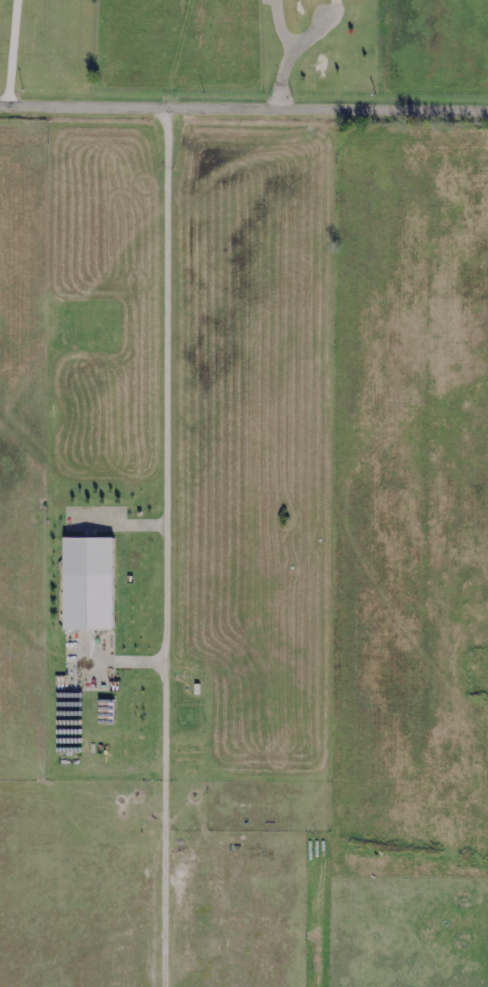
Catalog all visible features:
road: (13, 50)
road: (295, 54)
road: (243, 102)
road: (168, 409)
building: (87, 584)

